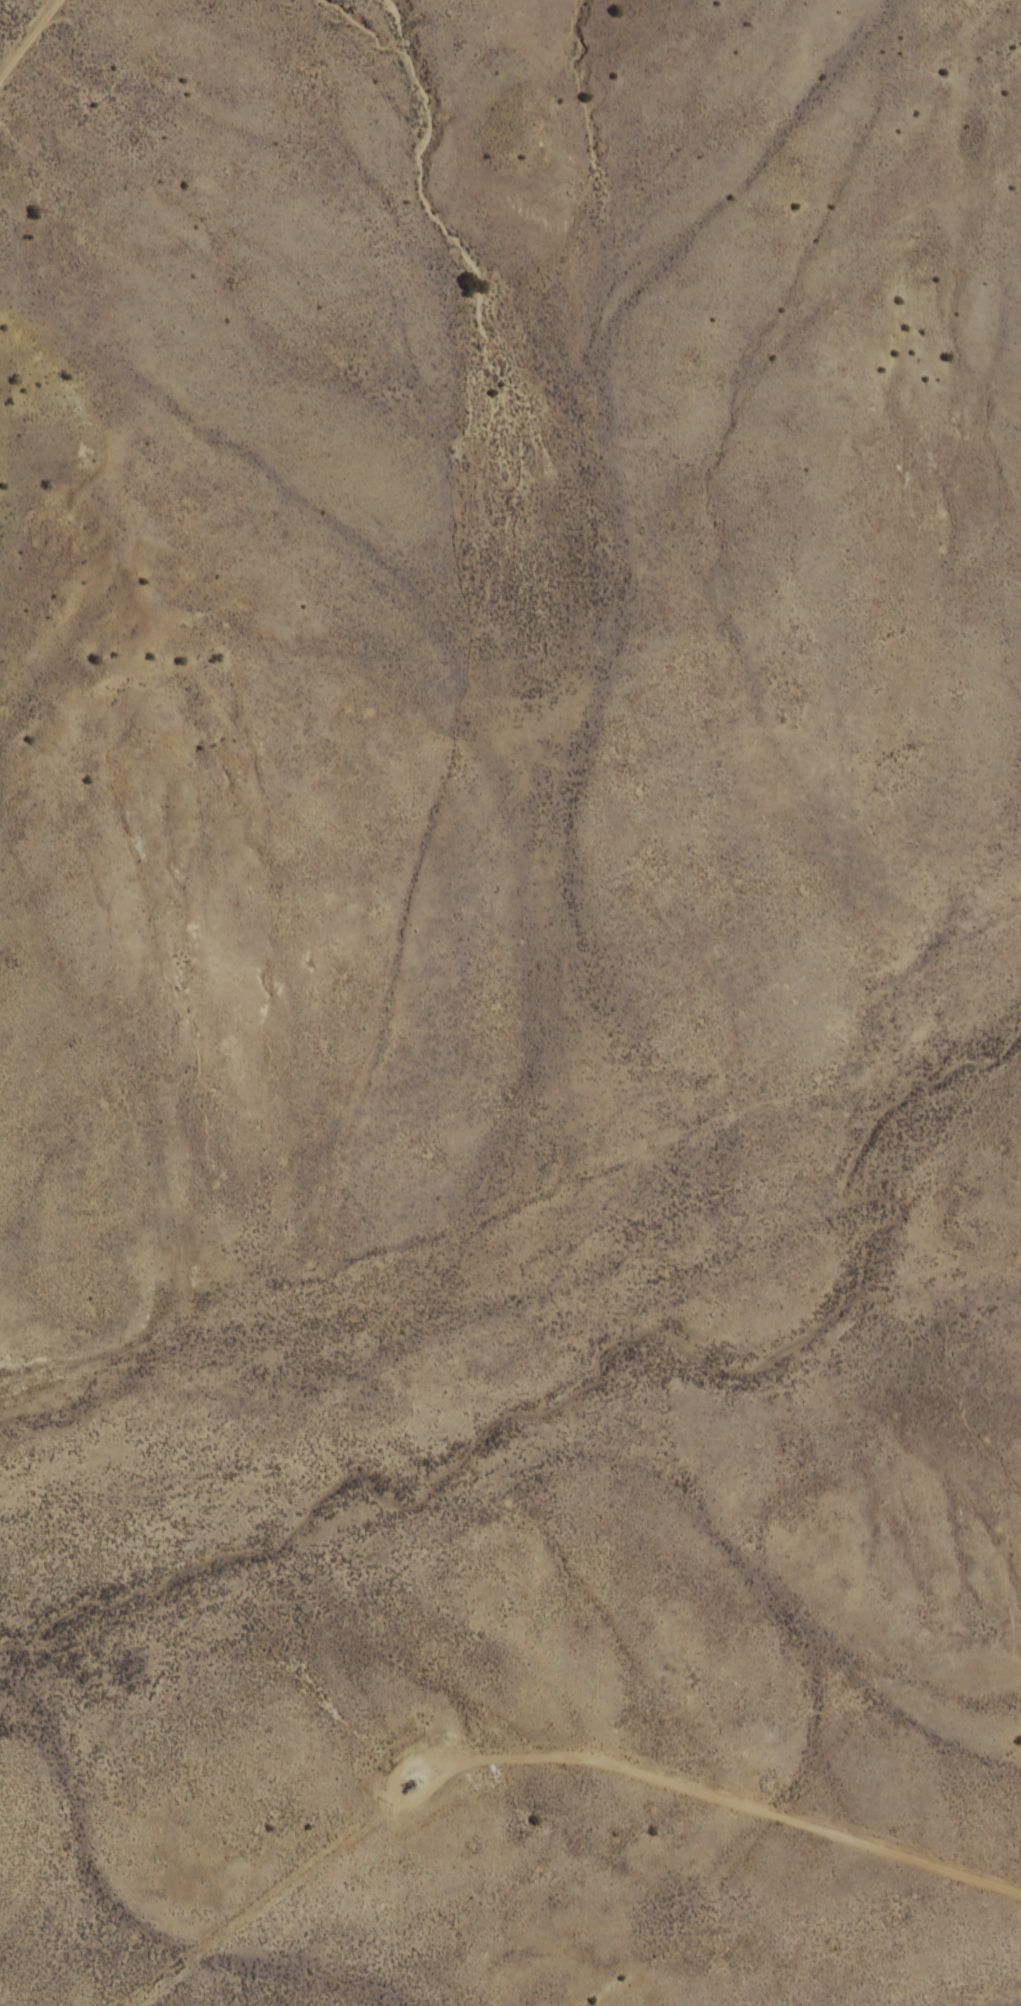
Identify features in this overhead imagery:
river: (594, 1389)

